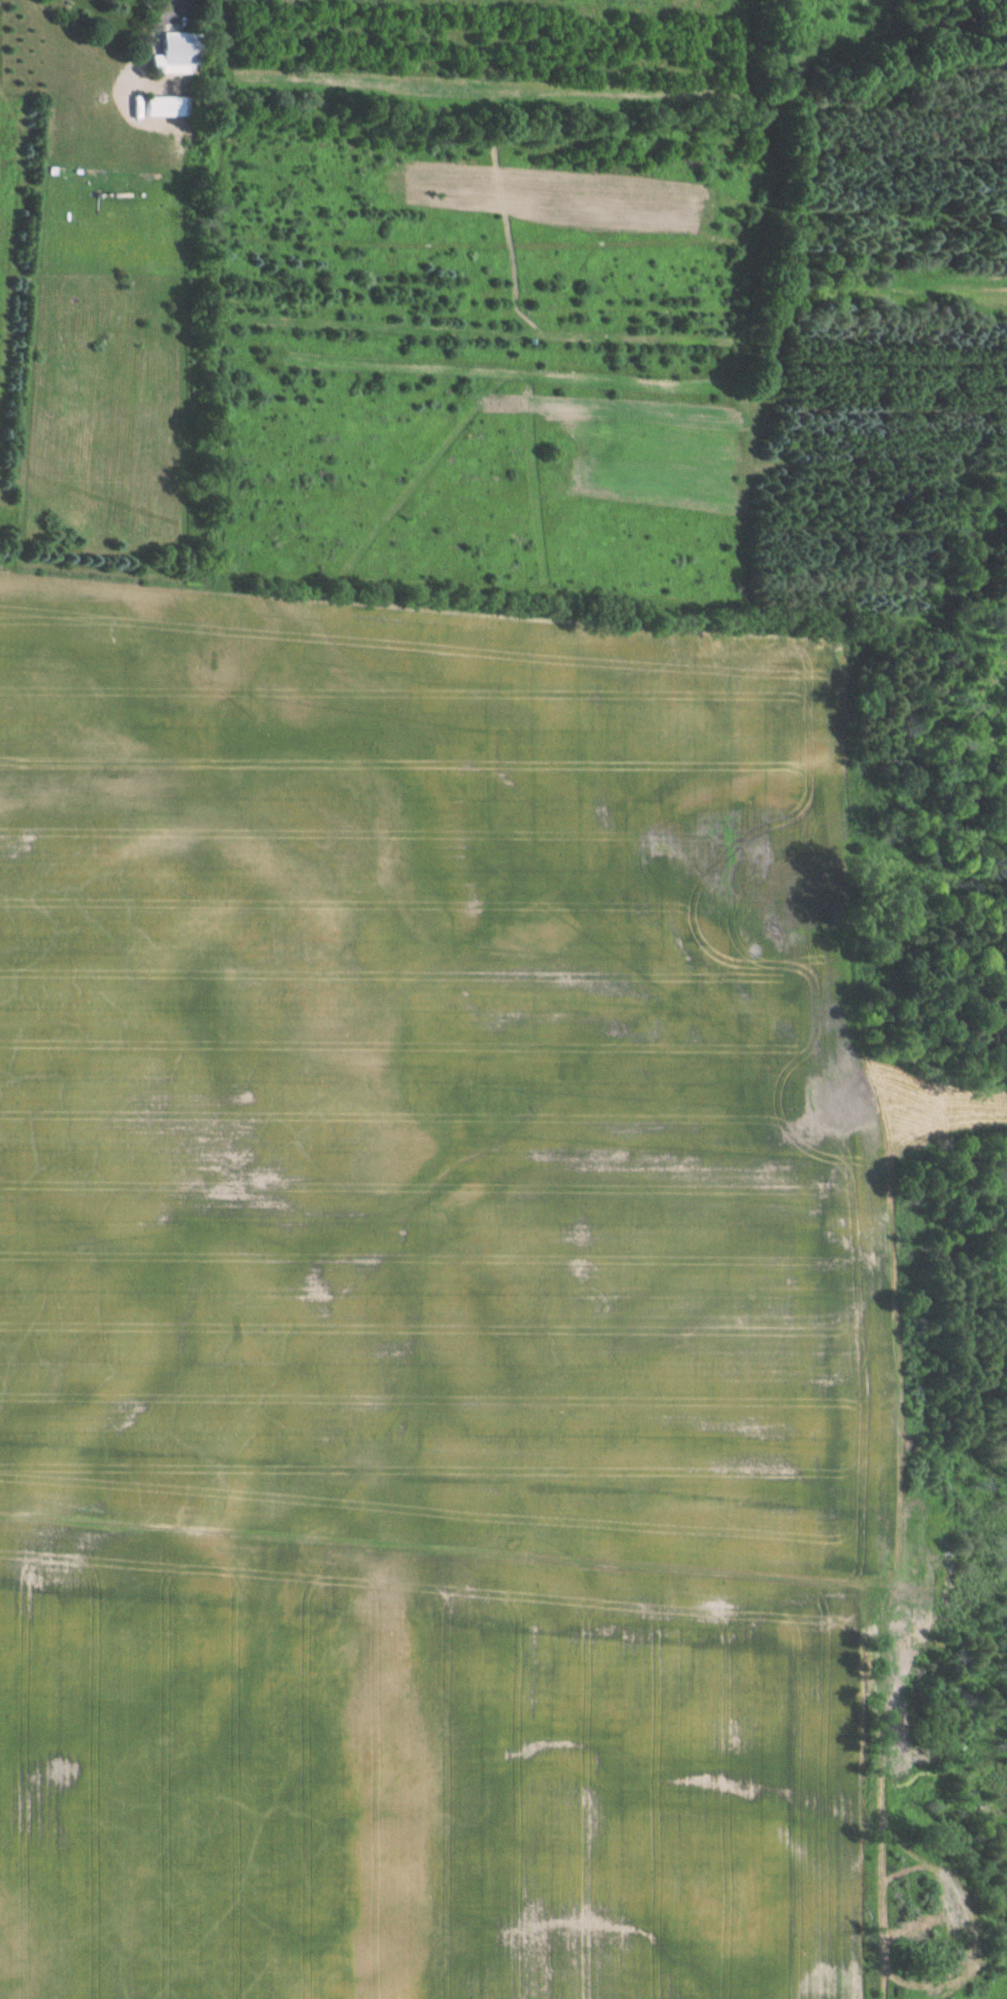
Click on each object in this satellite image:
building: (174, 54)
building: (159, 106)

